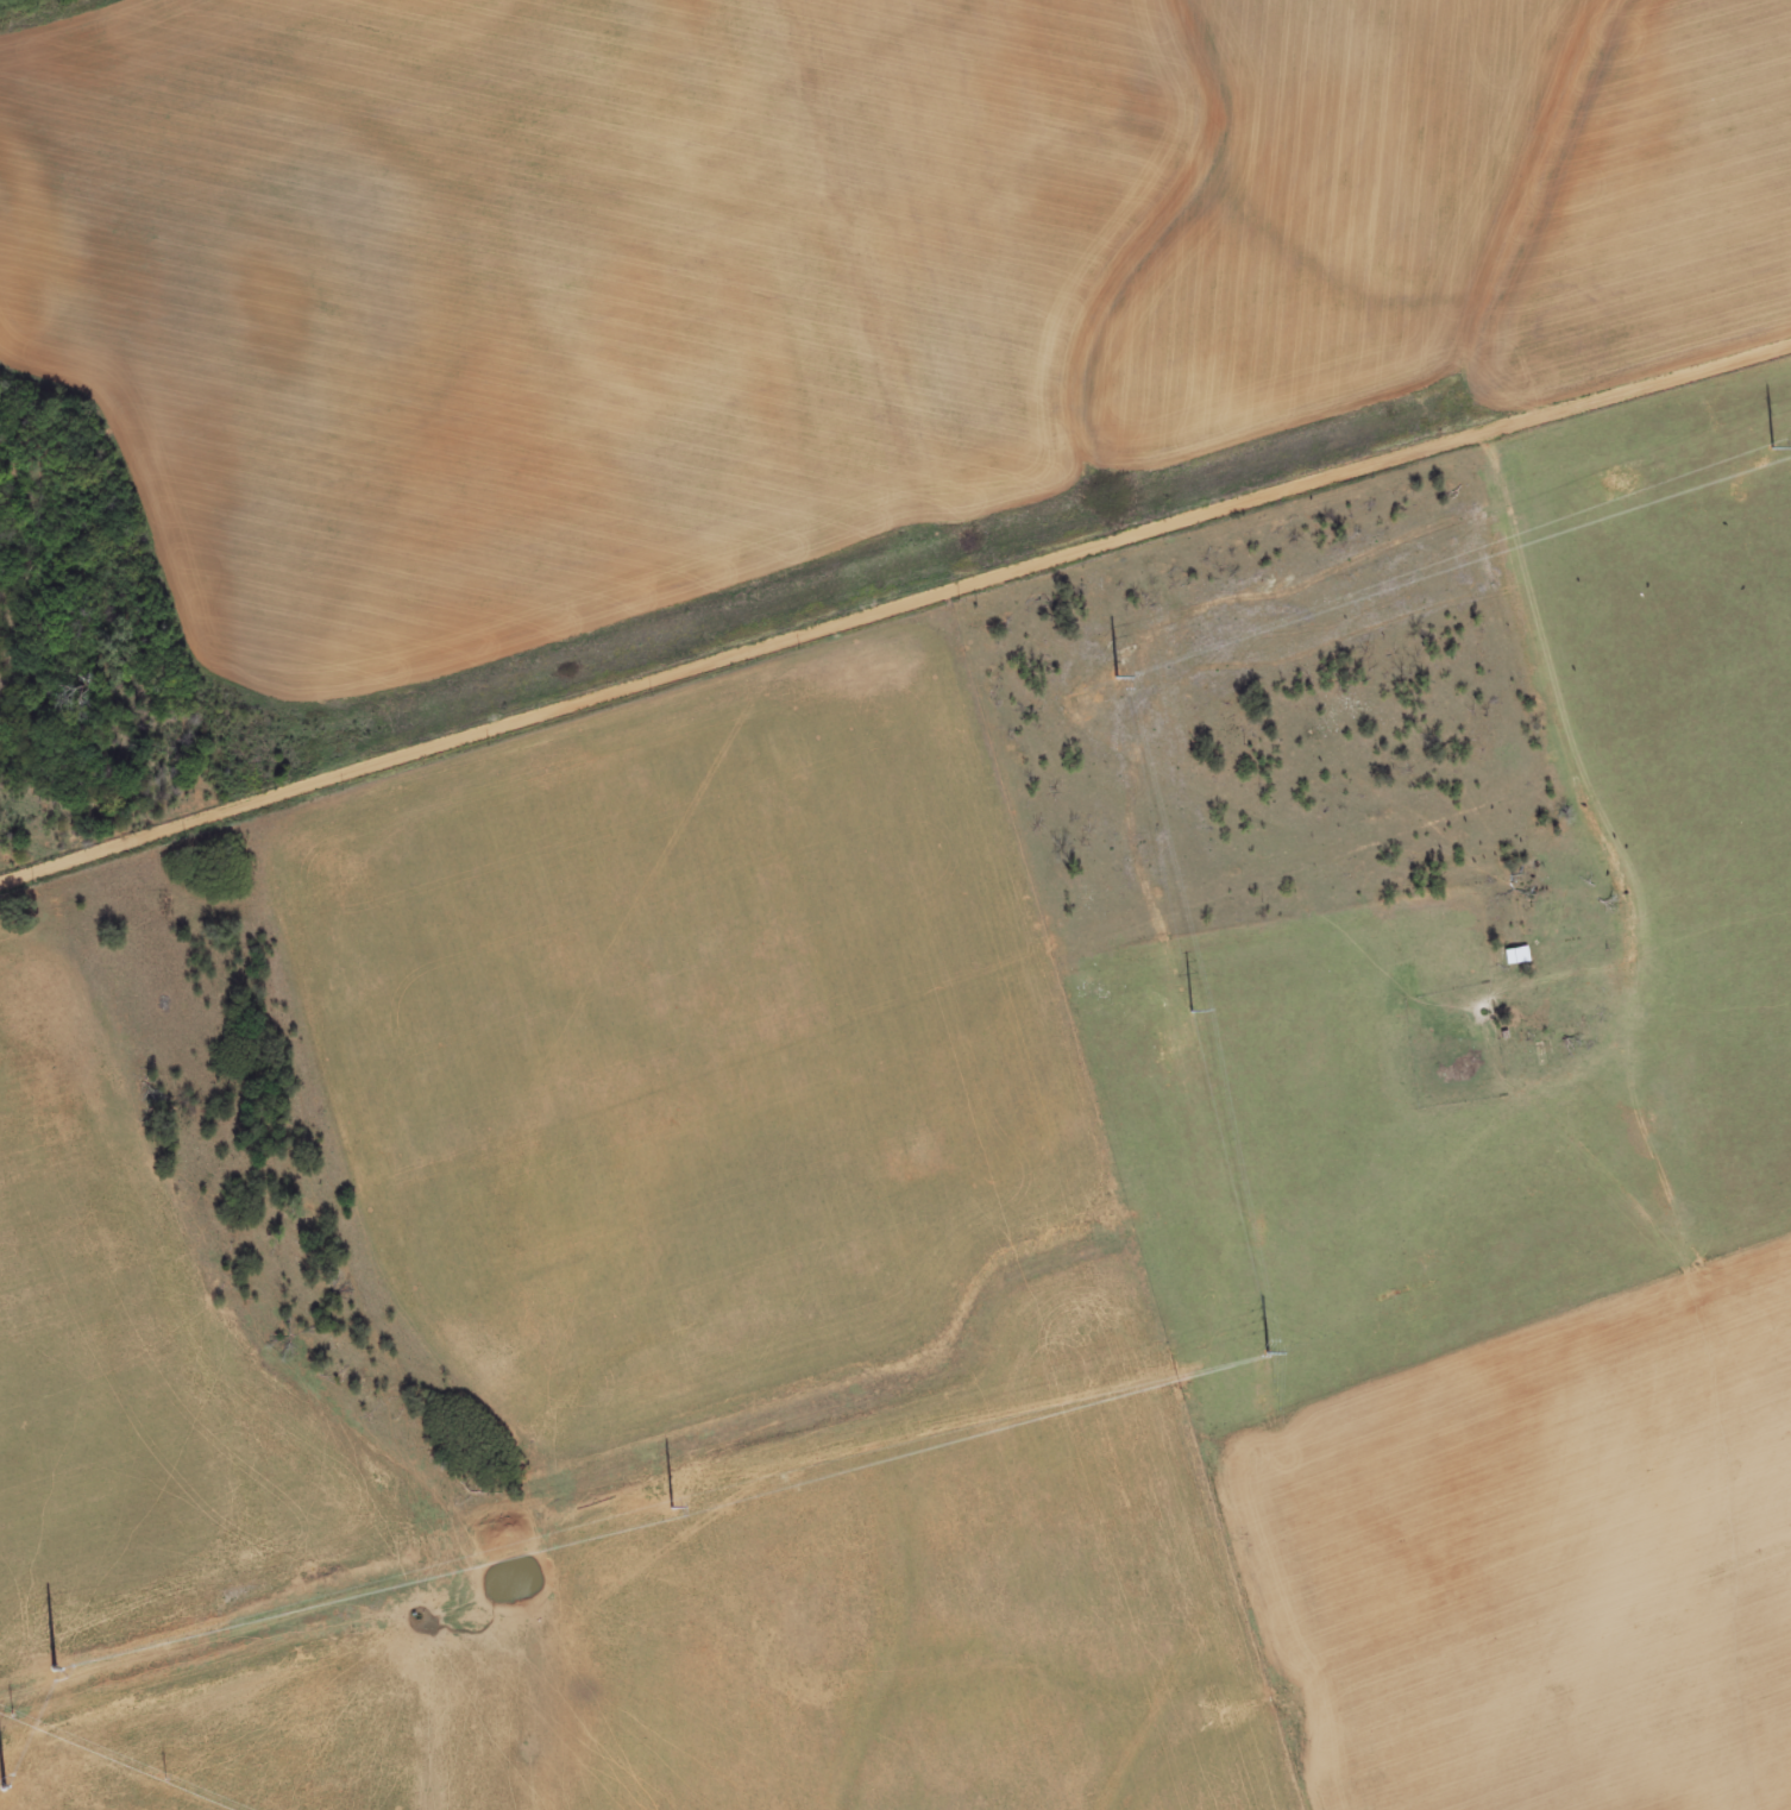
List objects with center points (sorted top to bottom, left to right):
road: (892, 603)
road: (1540, 660)
power tower: (1118, 673)
building: (1519, 957)
power tower: (1268, 1345)
power tower: (55, 1663)
power tower: (1, 1777)

